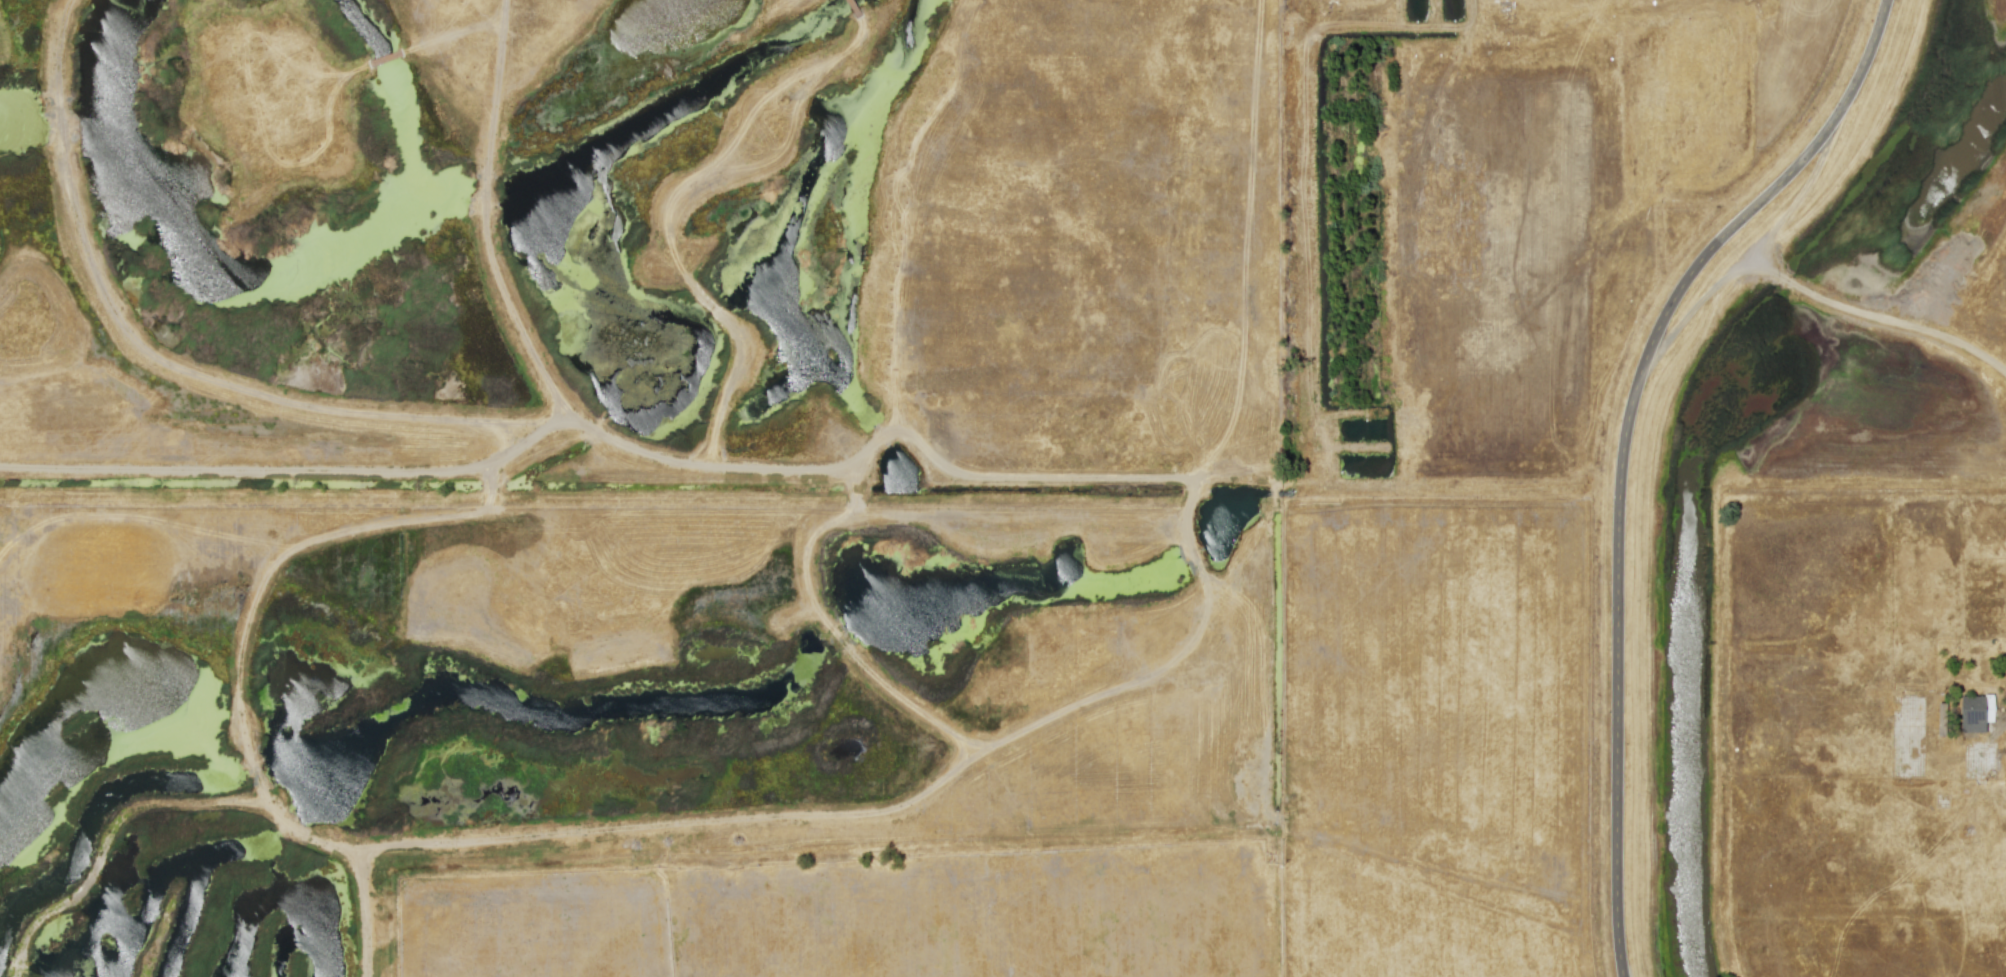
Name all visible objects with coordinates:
road: (1752, 252)
road: (1762, 262)
road: (1795, 285)
road: (1915, 328)
road: (1622, 447)
building: (1975, 712)

